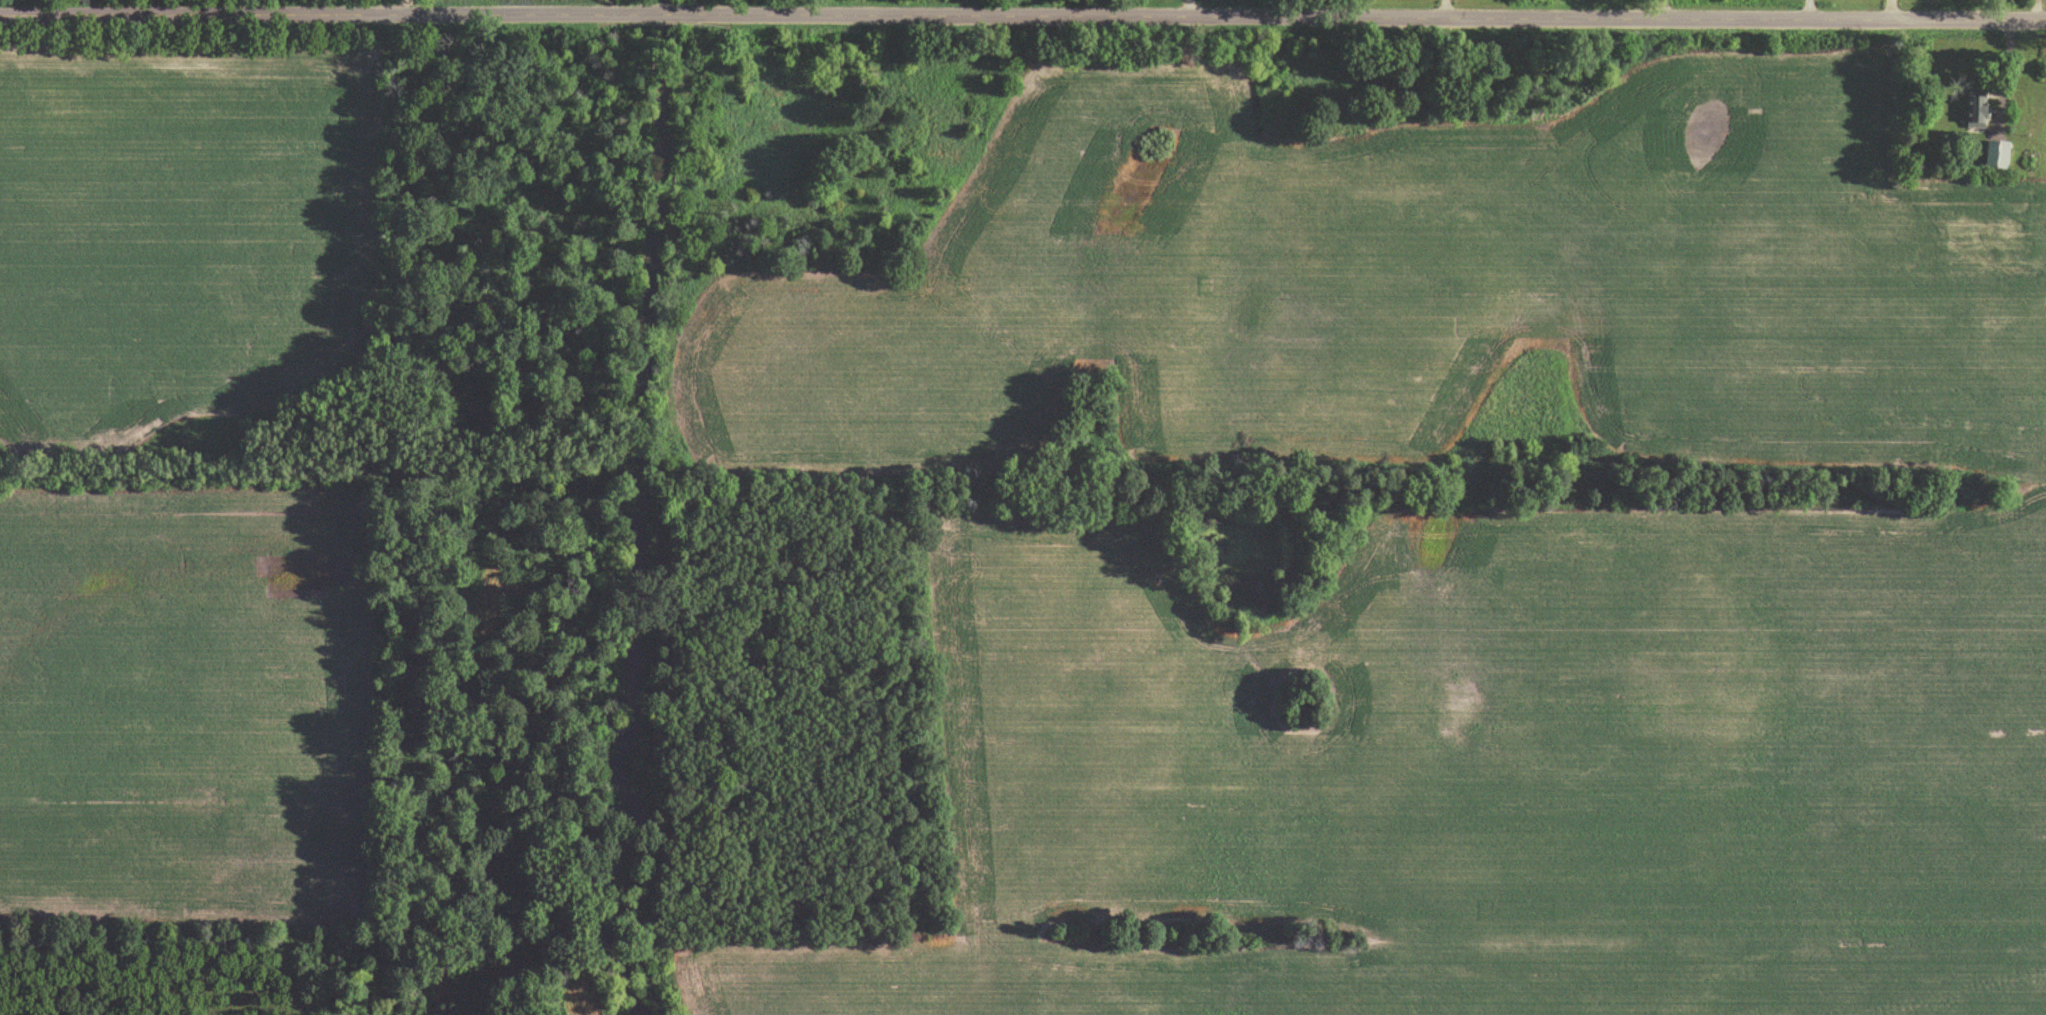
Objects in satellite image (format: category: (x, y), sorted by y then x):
road: (408, 12)
road: (1184, 13)
road: (1443, 14)
road: (1664, 14)
road: (1808, 14)
road: (1890, 14)
road: (2035, 15)
road: (1023, 26)

